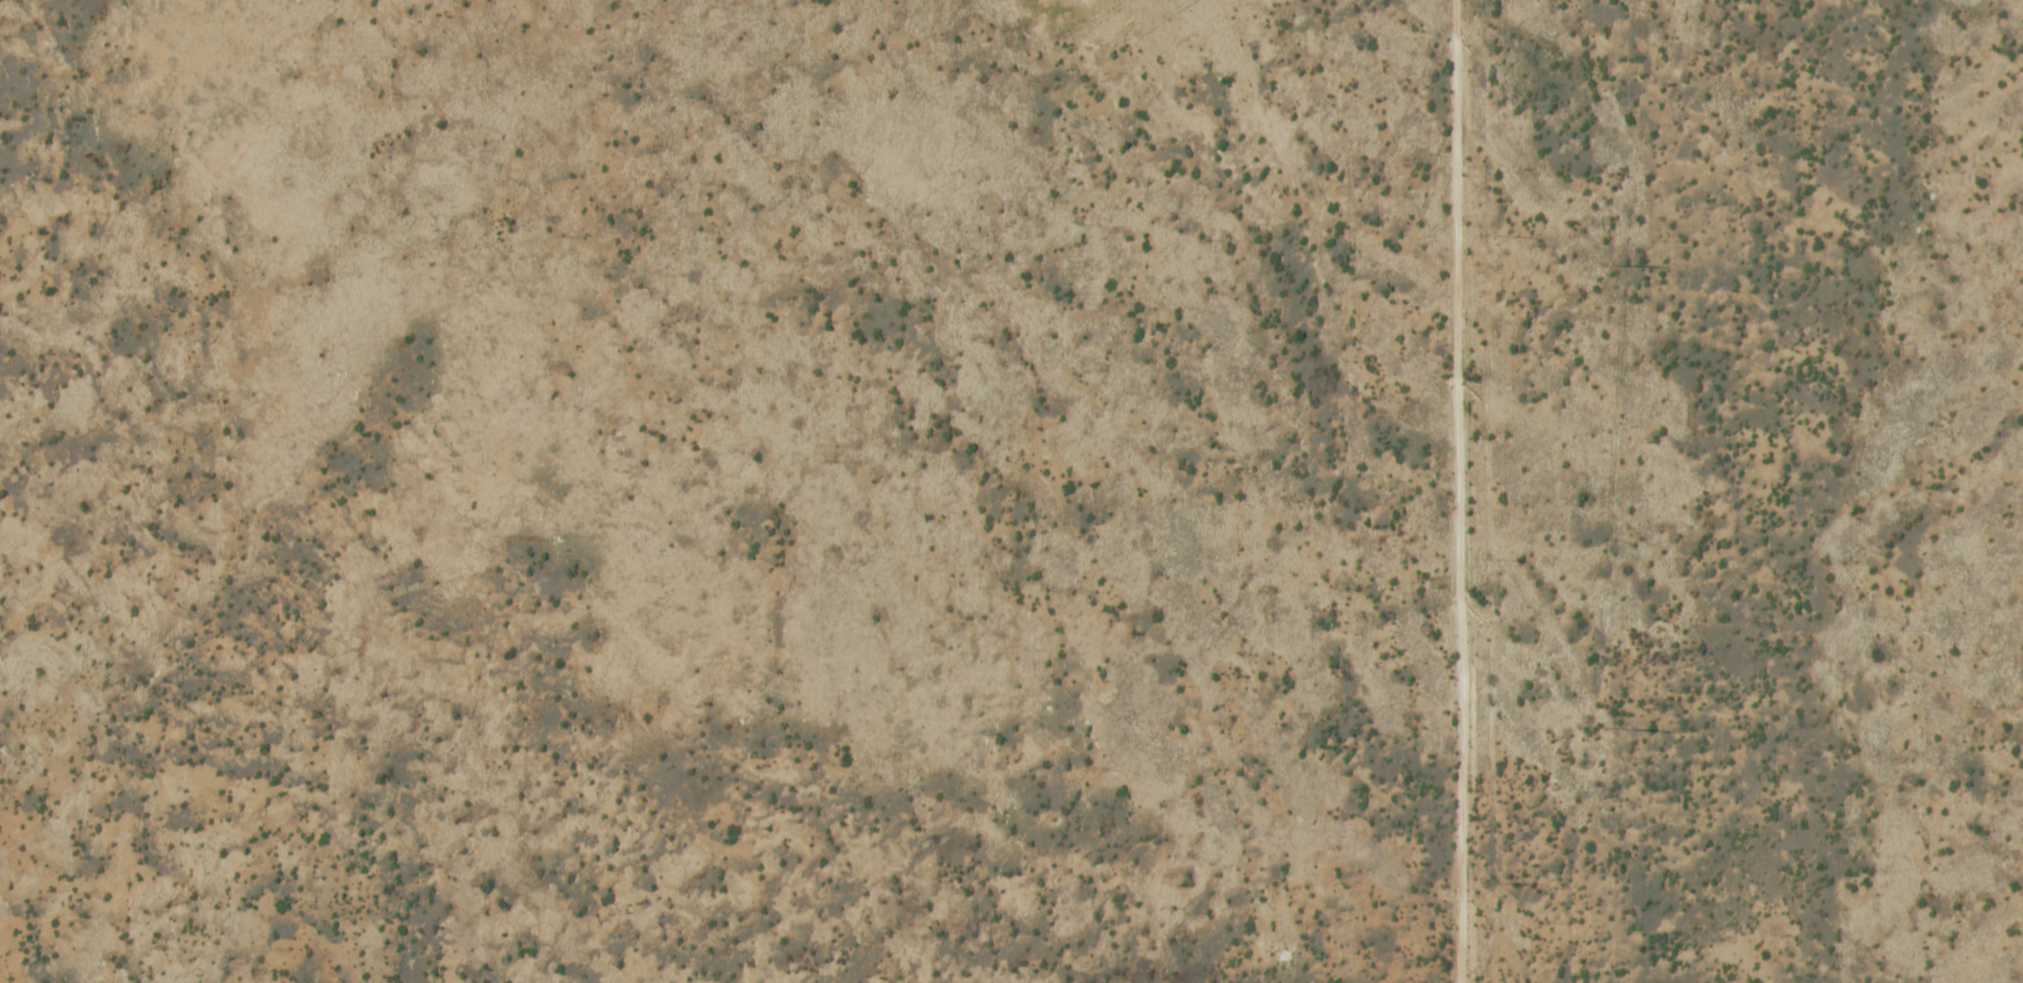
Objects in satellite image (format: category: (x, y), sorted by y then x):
power tower: (1482, 236)
power tower: (1604, 266)
road: (1455, 491)
power tower: (1486, 556)
power tower: (1608, 730)
power tower: (1487, 882)

